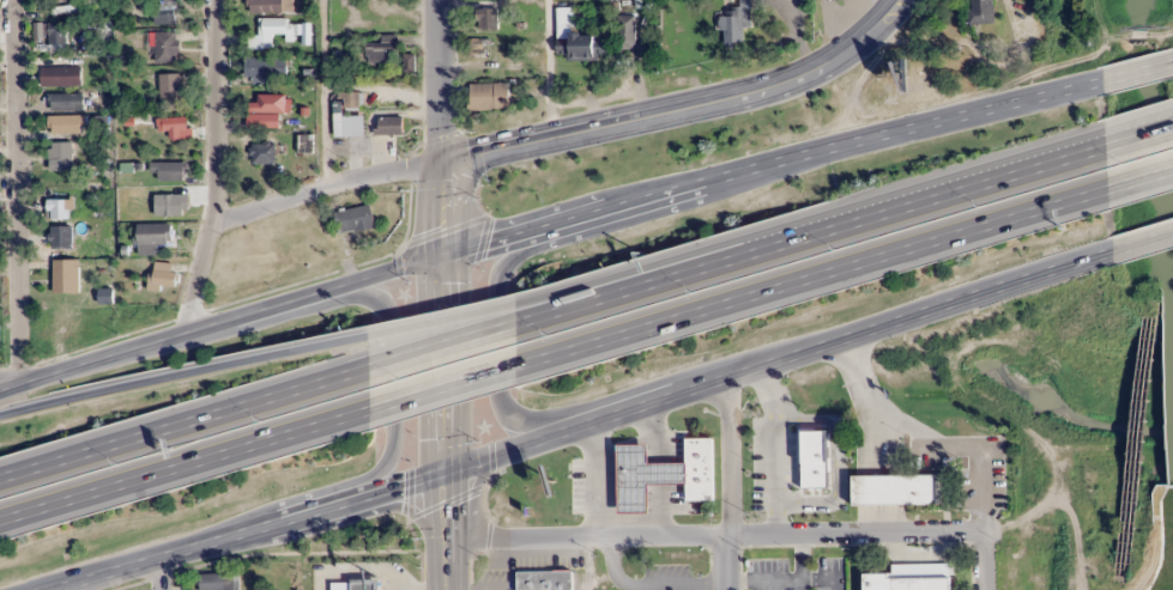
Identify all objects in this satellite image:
building: (270, 6)
building: (984, 11)
building: (165, 12)
building: (393, 19)
building: (486, 19)
building: (278, 26)
building: (732, 28)
building: (627, 31)
road: (834, 31)
building: (56, 32)
building: (580, 45)
building: (167, 47)
building: (383, 50)
building: (266, 66)
road: (1137, 72)
building: (60, 75)
road: (437, 81)
building: (170, 89)
building: (489, 96)
building: (66, 102)
building: (268, 104)
road: (682, 108)
building: (67, 123)
building: (174, 126)
building: (389, 126)
road: (1136, 135)
building: (306, 144)
river: (1145, 150)
road: (212, 151)
building: (262, 153)
building: (60, 156)
traffic signals: (437, 163)
building: (170, 171)
road: (1139, 180)
road: (322, 187)
road: (17, 190)
building: (168, 205)
building: (59, 208)
building: (355, 219)
road: (560, 224)
road: (808, 236)
building: (60, 237)
building: (153, 238)
road: (1139, 239)
traffic signals: (443, 255)
road: (648, 273)
road: (810, 273)
building: (66, 276)
building: (163, 276)
road: (441, 318)
building: (71, 330)
building: (0, 337)
road: (494, 337)
road: (442, 345)
road: (183, 375)
road: (445, 376)
road: (11, 381)
road: (441, 383)
road: (11, 384)
road: (393, 389)
road: (183, 421)
road: (580, 424)
building: (490, 431)
building: (817, 451)
road: (182, 462)
building: (663, 474)
traffic signals: (446, 478)
road: (727, 485)
building: (896, 488)
road: (717, 534)
road: (986, 560)
road: (159, 574)
building: (544, 579)
building: (921, 580)
building: (218, 582)
building: (353, 585)

